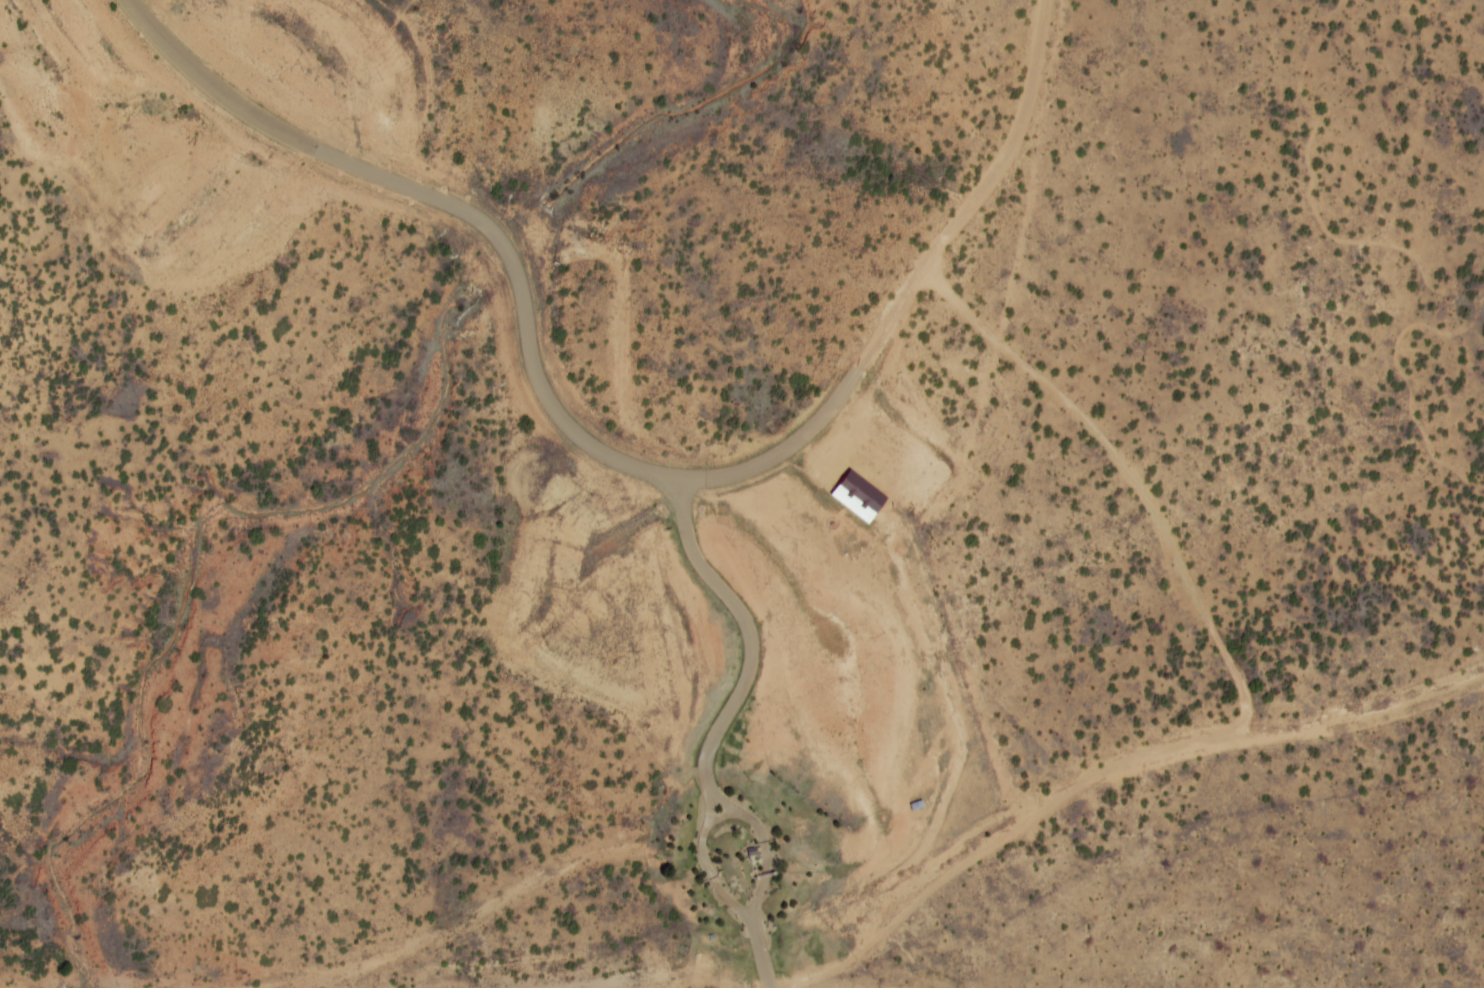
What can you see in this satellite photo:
park: (394, 7)
road: (983, 200)
road: (453, 206)
road: (783, 452)
building: (857, 496)
road: (750, 632)
road: (724, 815)
road: (767, 848)
road: (708, 868)
road: (762, 957)

